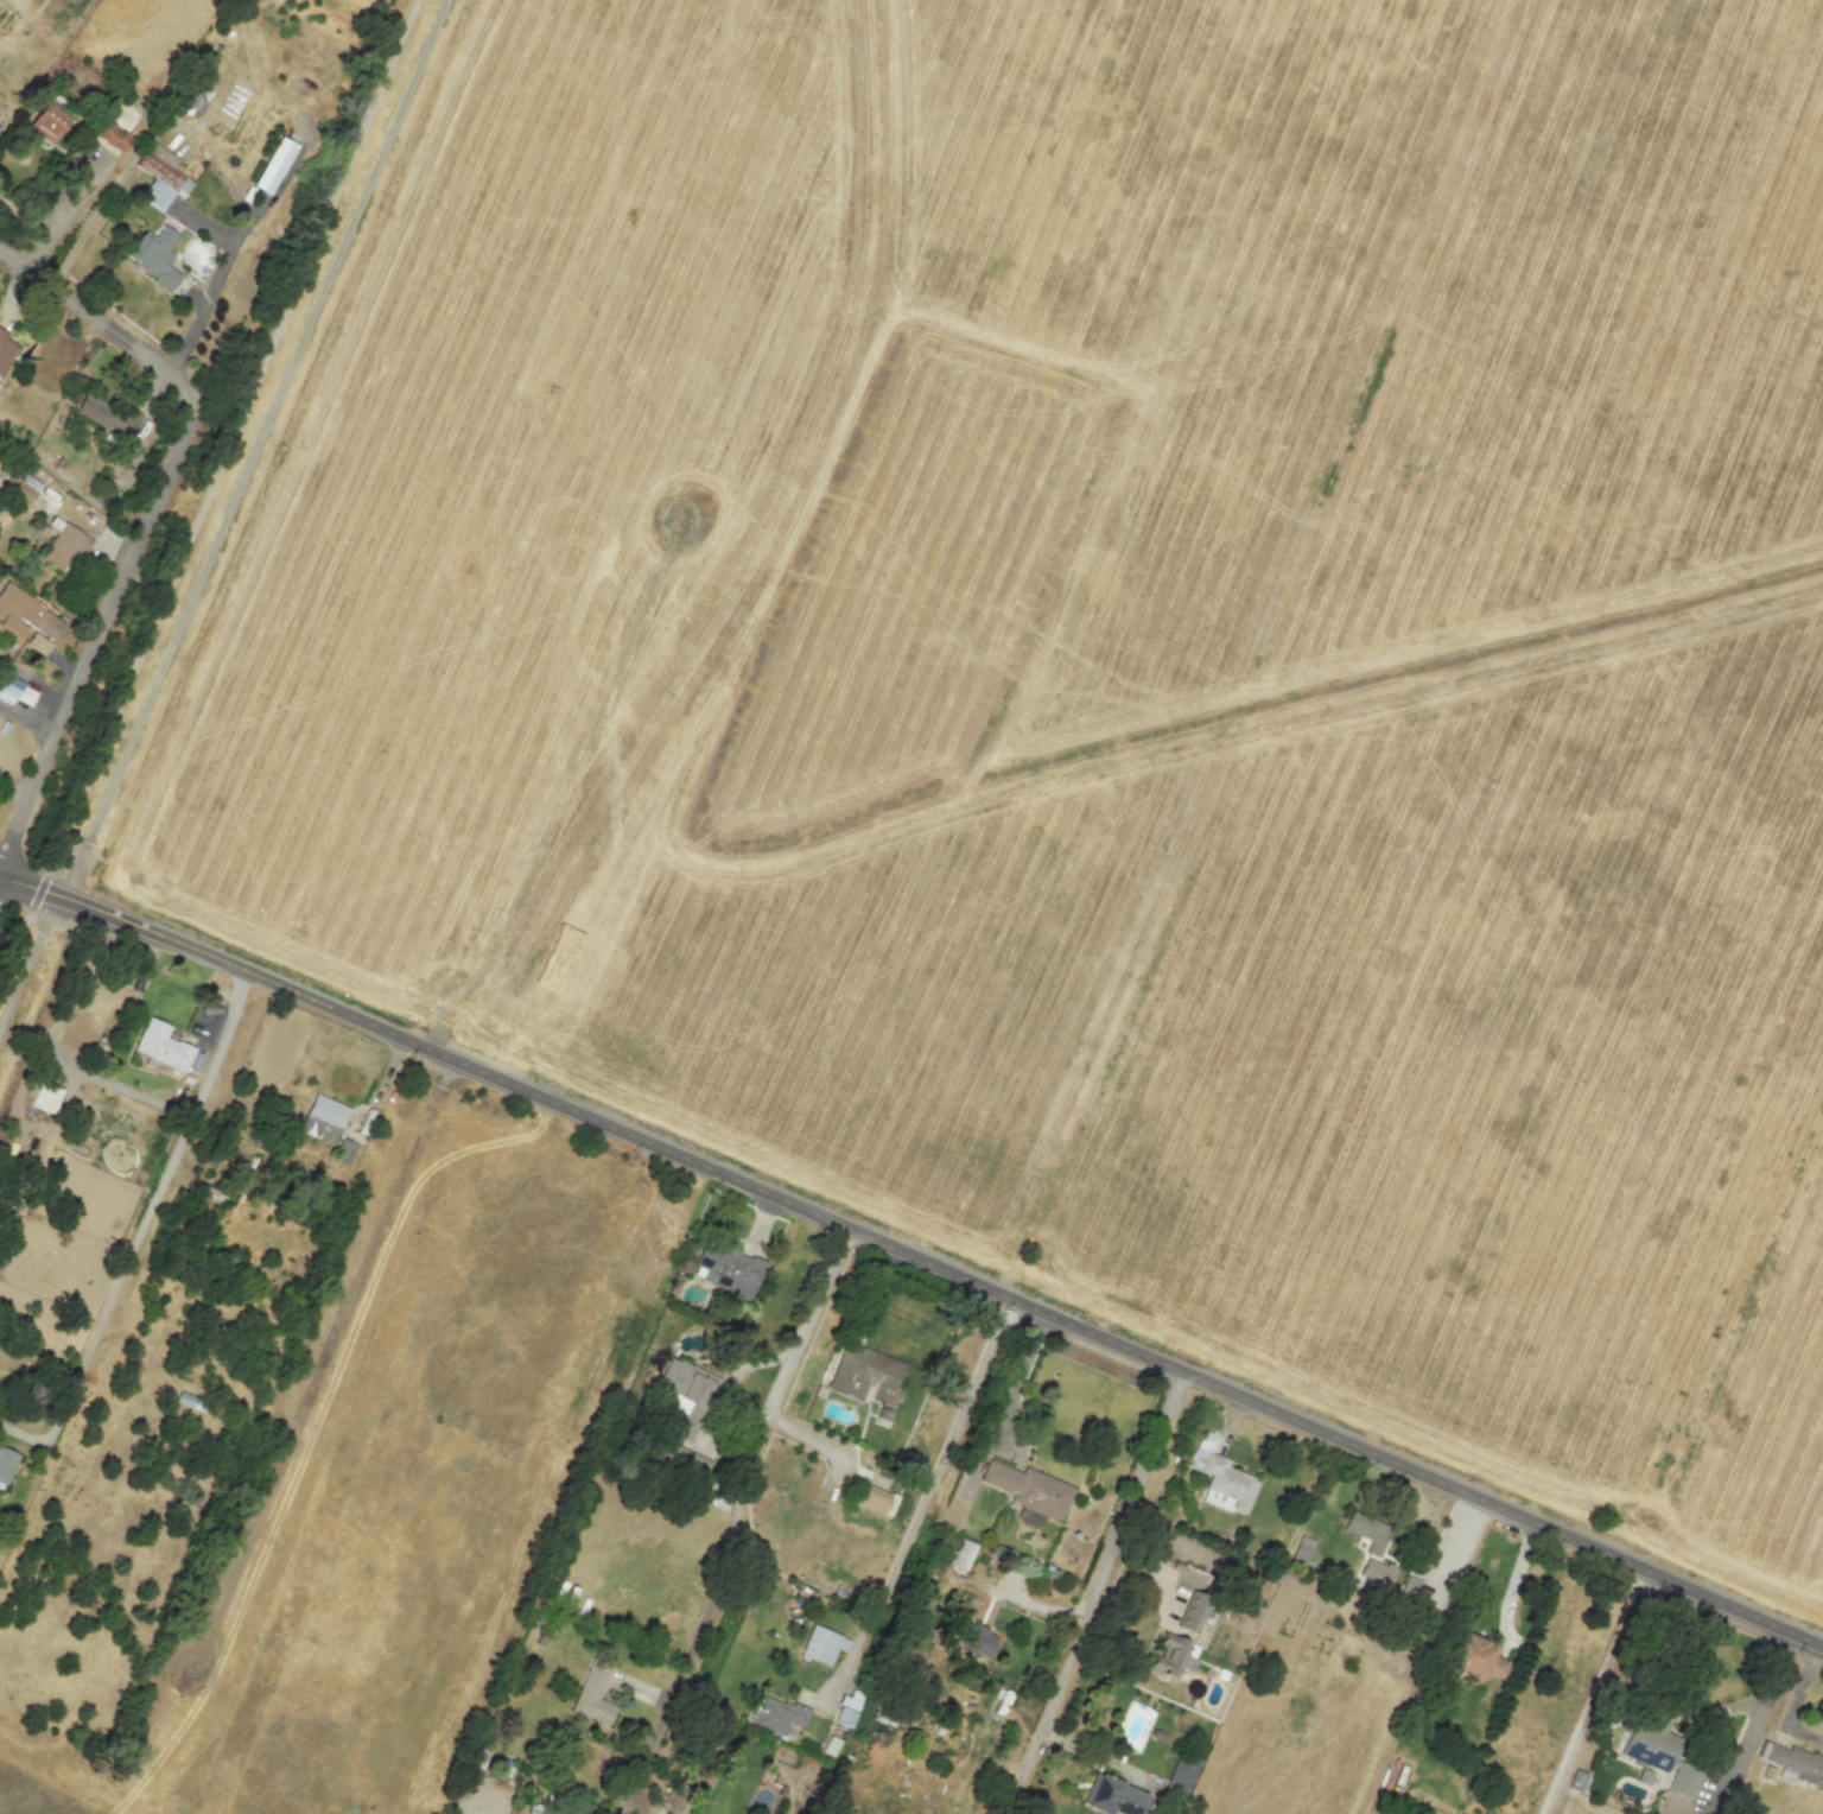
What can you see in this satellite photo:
building: (1, 101)
building: (123, 116)
building: (46, 121)
building: (110, 137)
building: (274, 161)
building: (160, 173)
road: (272, 194)
road: (62, 209)
building: (155, 254)
road: (218, 273)
road: (97, 321)
building: (5, 351)
building: (106, 416)
building: (23, 488)
road: (222, 513)
road: (223, 521)
building: (62, 544)
building: (27, 620)
road: (97, 639)
road: (1258, 645)
building: (17, 691)
road: (27, 721)
building: (161, 1047)
road: (201, 1087)
building: (44, 1097)
building: (322, 1118)
building: (343, 1152)
road: (913, 1255)
building: (726, 1268)
road: (88, 1349)
road: (1017, 1377)
building: (866, 1378)
building: (686, 1381)
building: (684, 1461)
building: (5, 1465)
building: (1221, 1473)
building: (1029, 1491)
road: (927, 1493)
road: (739, 1498)
building: (871, 1501)
building: (1366, 1530)
building: (1302, 1546)
building: (961, 1554)
building: (1376, 1573)
building: (1410, 1585)
road: (1094, 1593)
building: (1190, 1611)
building: (973, 1638)
building: (821, 1645)
building: (1169, 1655)
building: (1473, 1657)
road: (1641, 1688)
road: (1592, 1691)
building: (592, 1694)
road: (1796, 1700)
building: (777, 1714)
road: (1754, 1723)
building: (830, 1745)
building: (1658, 1752)
building: (1798, 1761)
building: (1180, 1775)
building: (1575, 1781)
building: (1111, 1793)
building: (532, 1808)
road: (1586, 1813)

